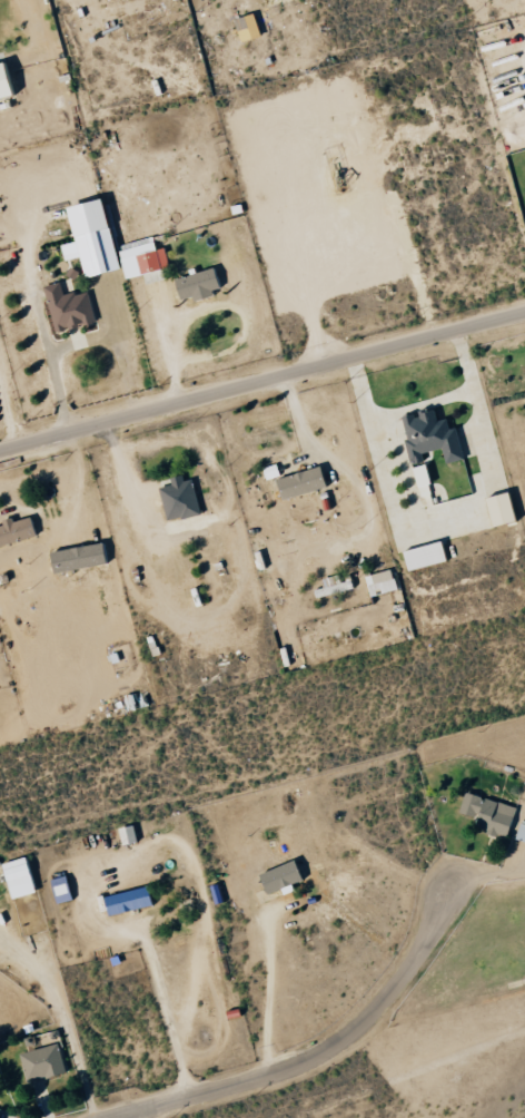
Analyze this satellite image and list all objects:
building: (249, 28)
building: (9, 82)
petroleum well: (340, 171)
building: (113, 247)
building: (202, 285)
building: (70, 308)
road: (51, 364)
road: (261, 380)
building: (424, 428)
building: (426, 479)
building: (306, 483)
building: (181, 500)
building: (507, 510)
building: (19, 532)
building: (428, 557)
building: (384, 583)
building: (336, 587)
building: (486, 814)
building: (519, 833)
building: (125, 835)
building: (14, 877)
building: (58, 890)
building: (125, 901)
road: (62, 1019)
road: (319, 1053)
building: (40, 1062)
road: (6, 1114)
road: (133, 1115)

